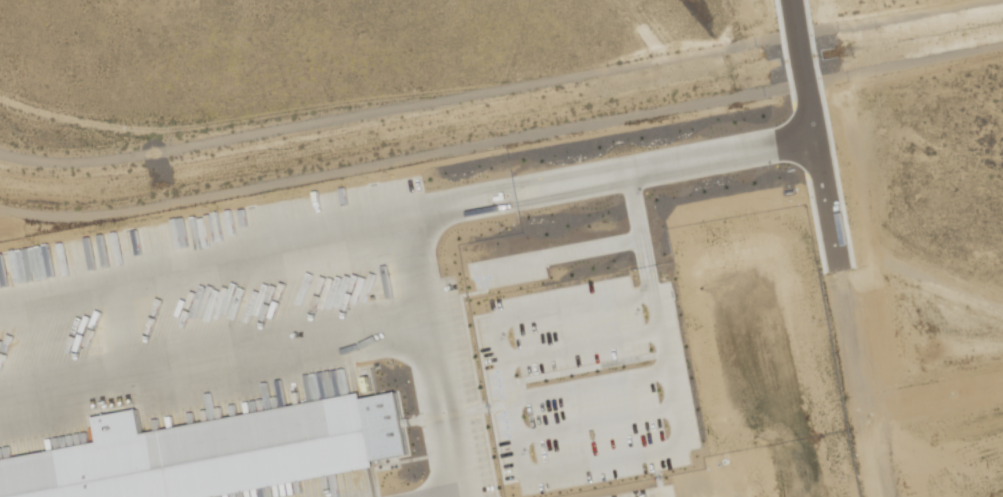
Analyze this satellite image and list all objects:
building: (214, 451)

